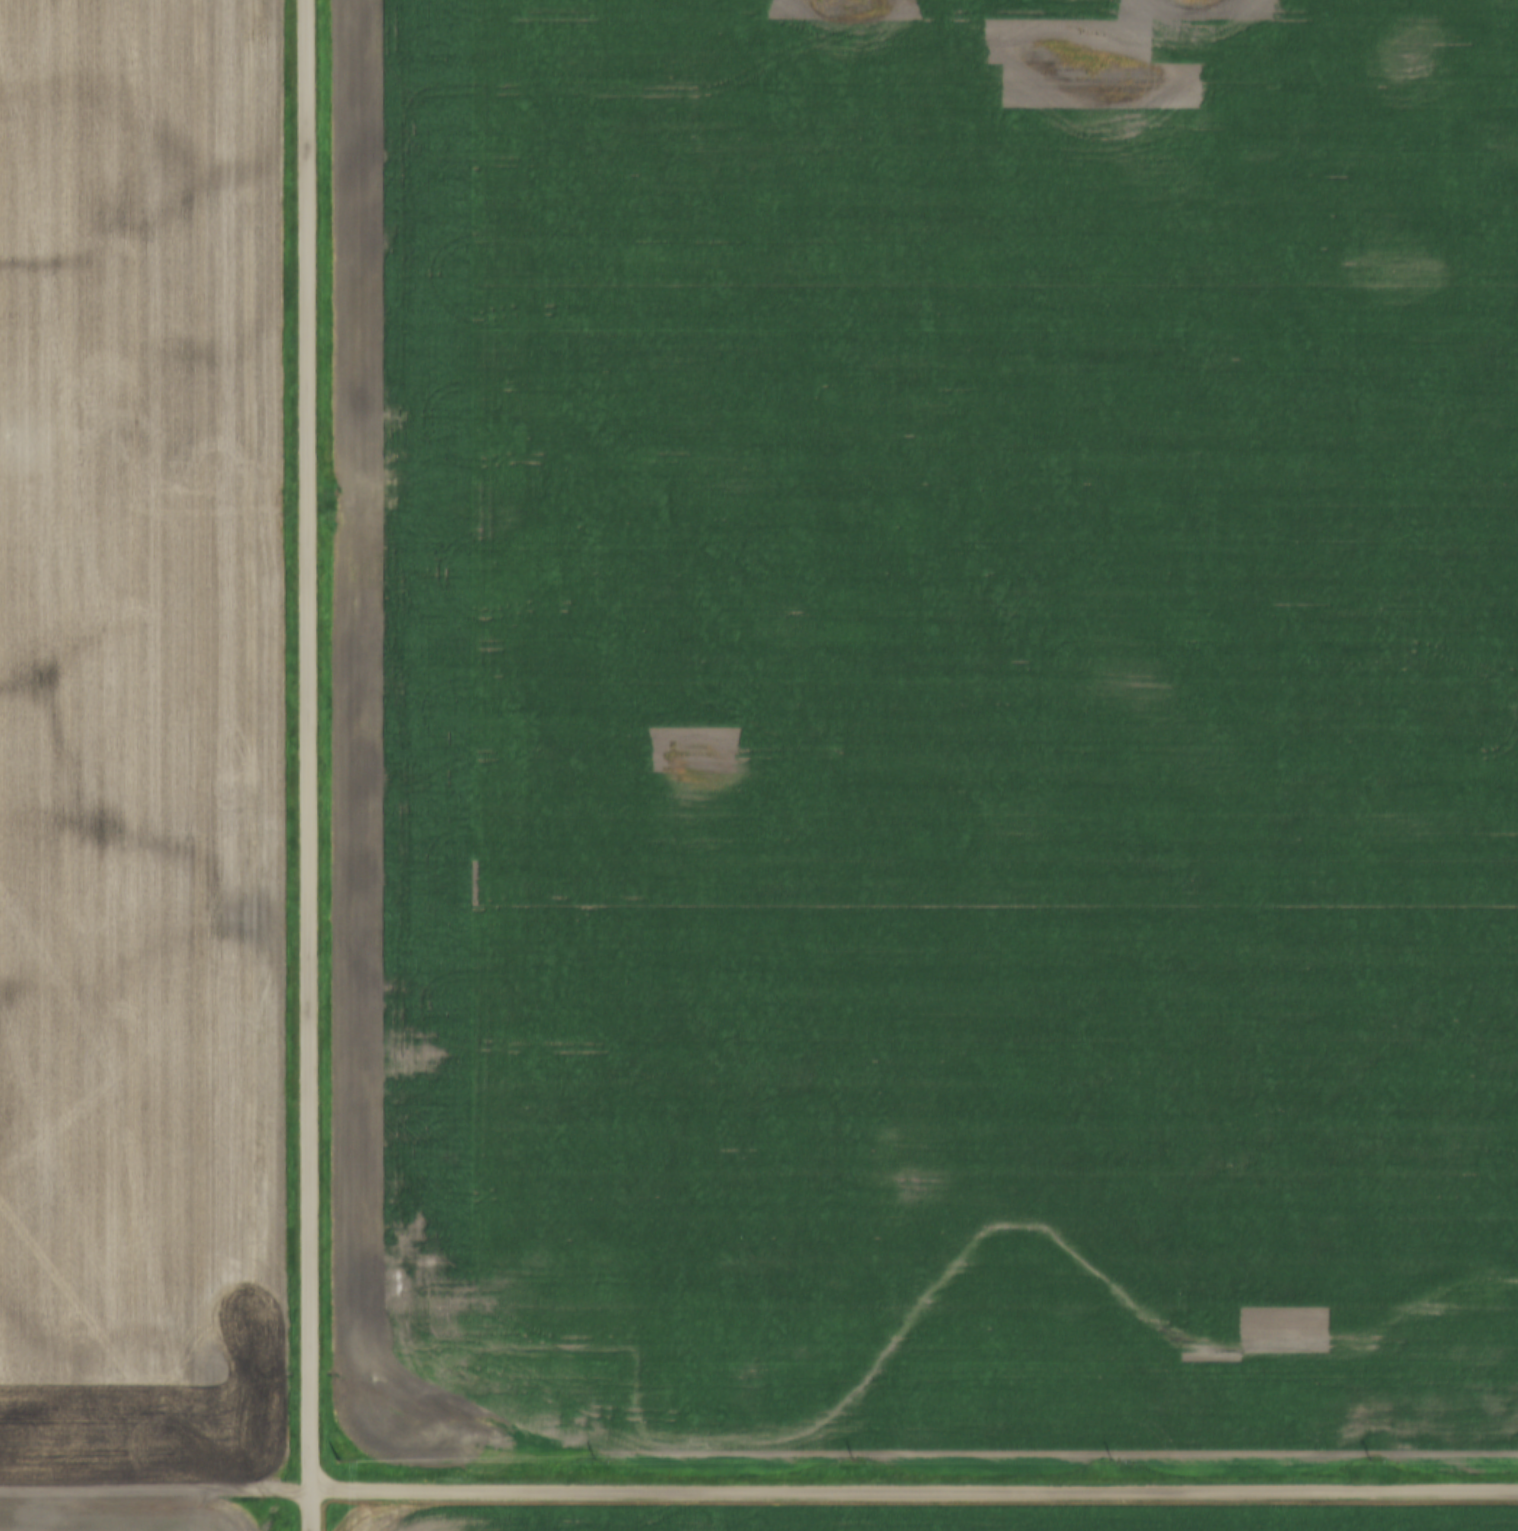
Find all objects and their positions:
road: (311, 765)
road: (915, 1489)
road: (156, 1492)

